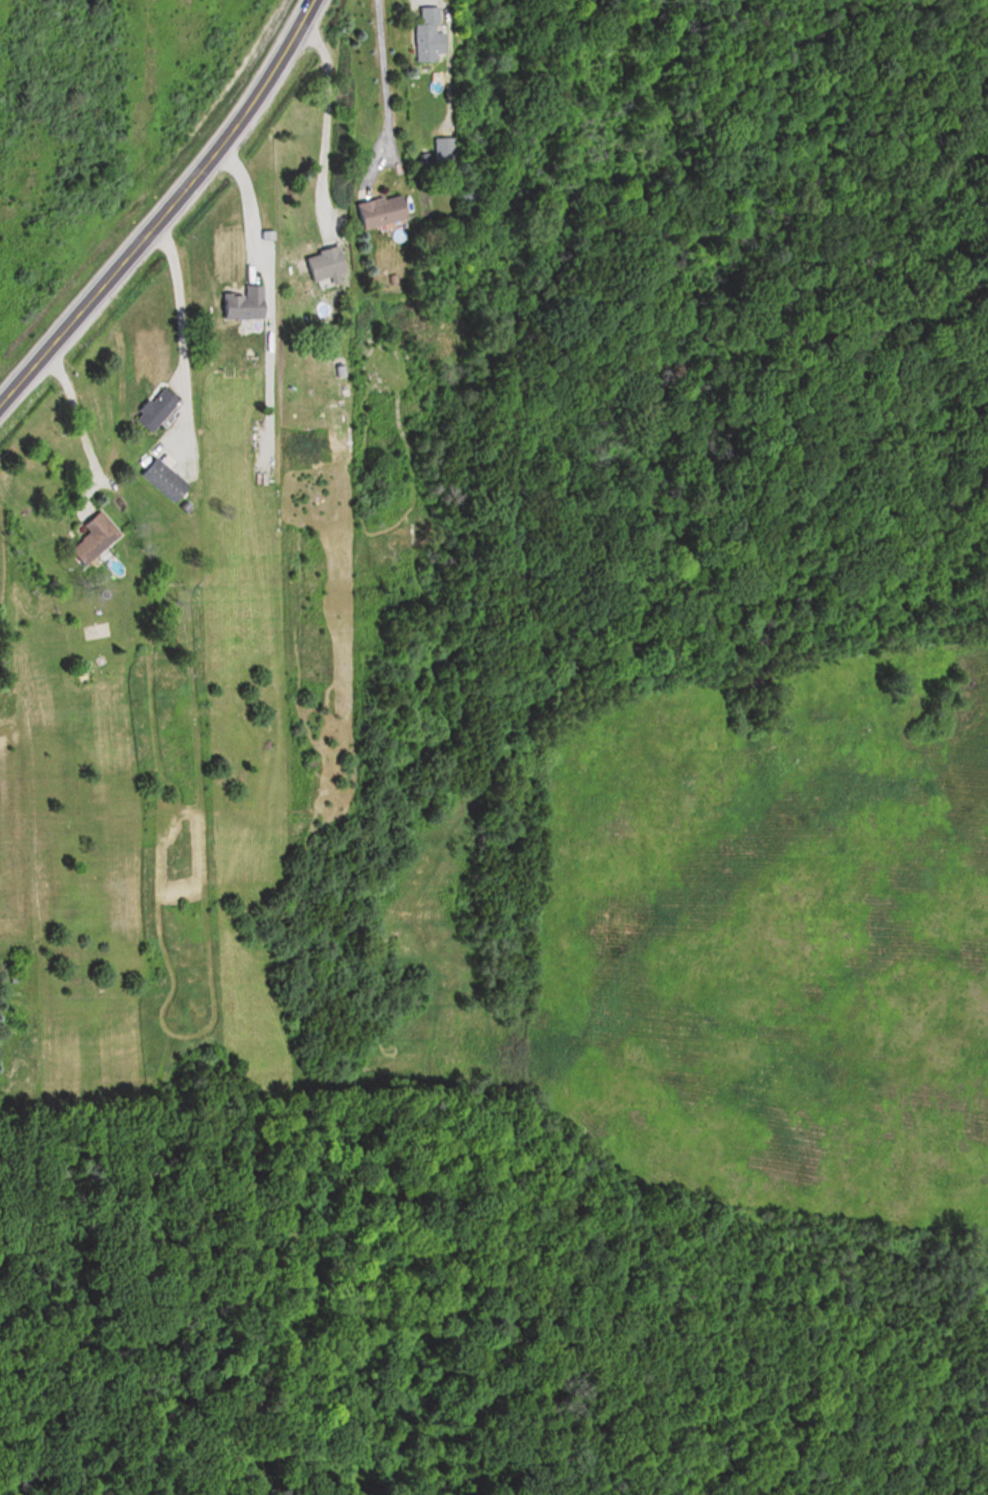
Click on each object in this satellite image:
building: (425, 42)
road: (386, 84)
road: (325, 110)
road: (249, 198)
road: (162, 206)
building: (378, 211)
building: (321, 267)
building: (241, 304)
road: (182, 316)
road: (75, 405)
building: (153, 410)
building: (160, 481)
building: (91, 539)

